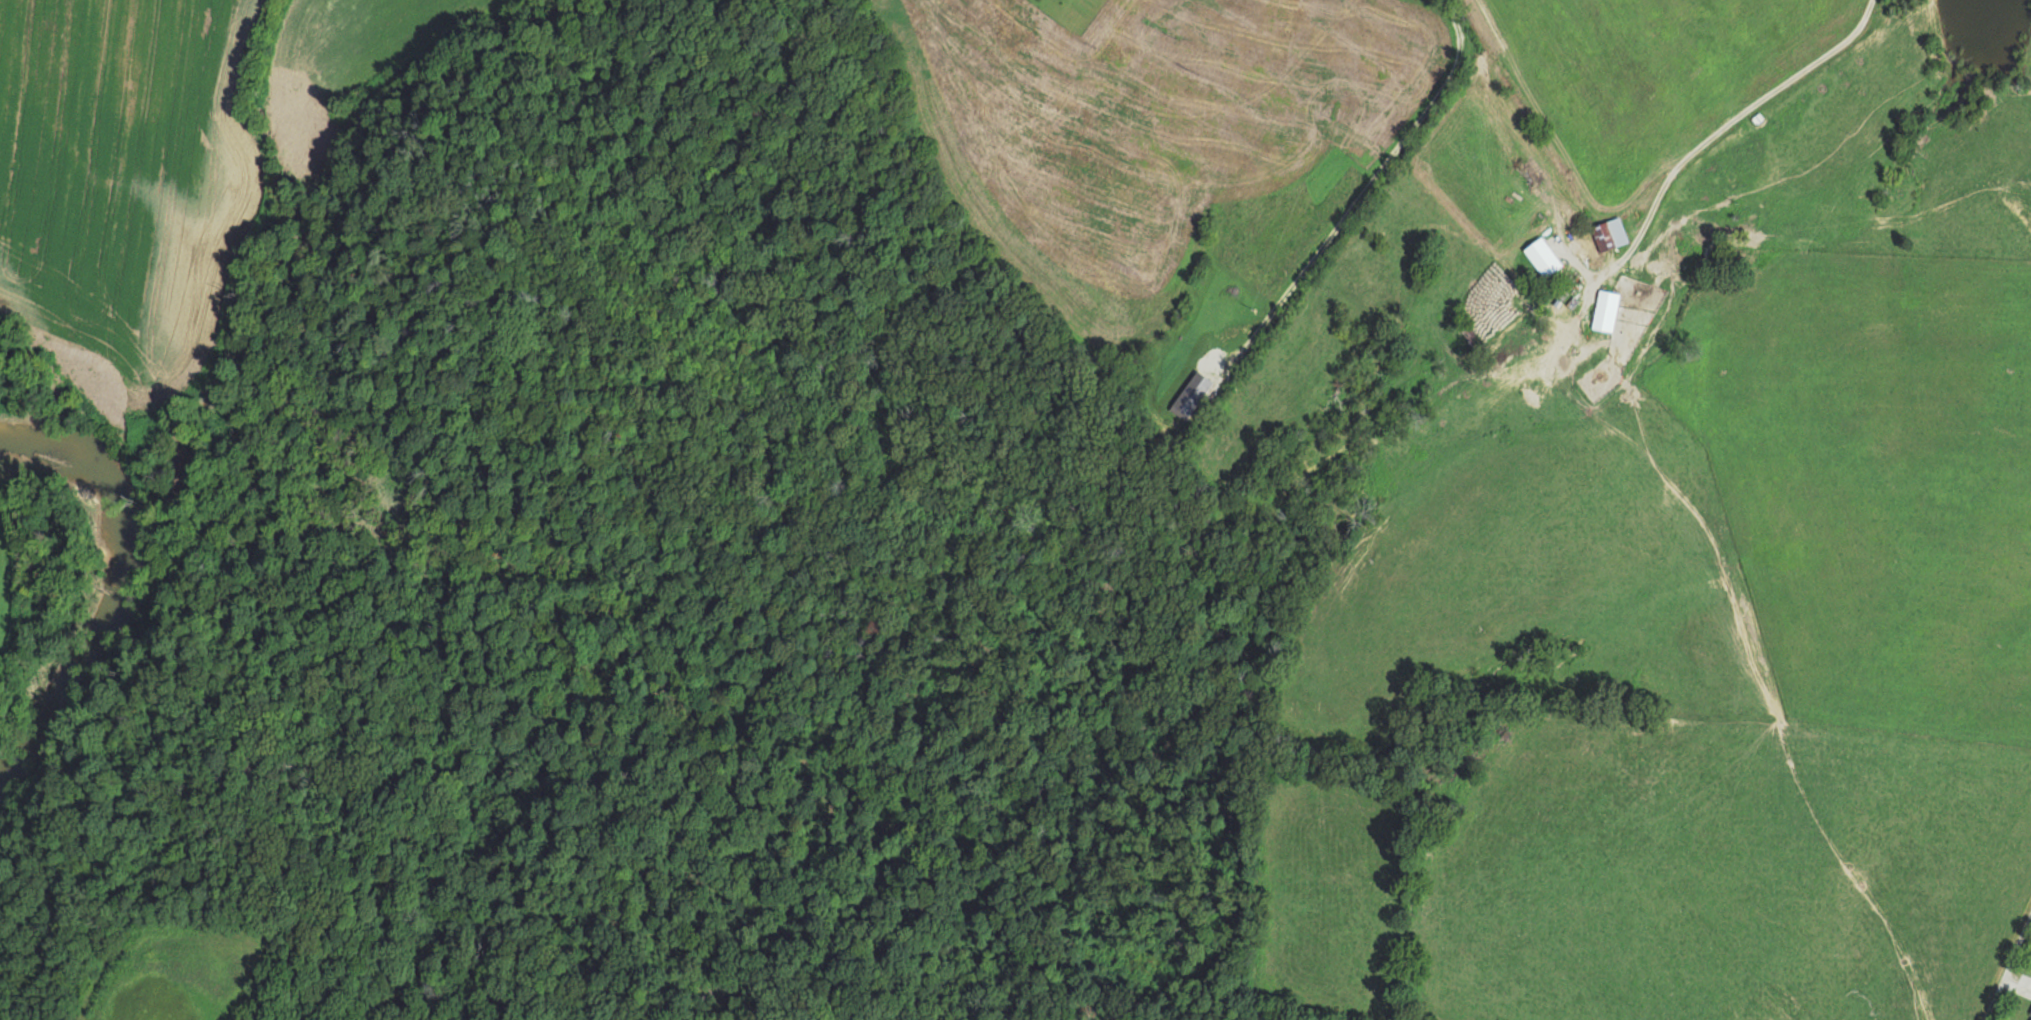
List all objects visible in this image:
road: (1837, 209)
building: (1606, 234)
building: (1636, 336)
building: (1576, 361)
river: (139, 593)
road: (2021, 1002)
building: (2029, 1015)

